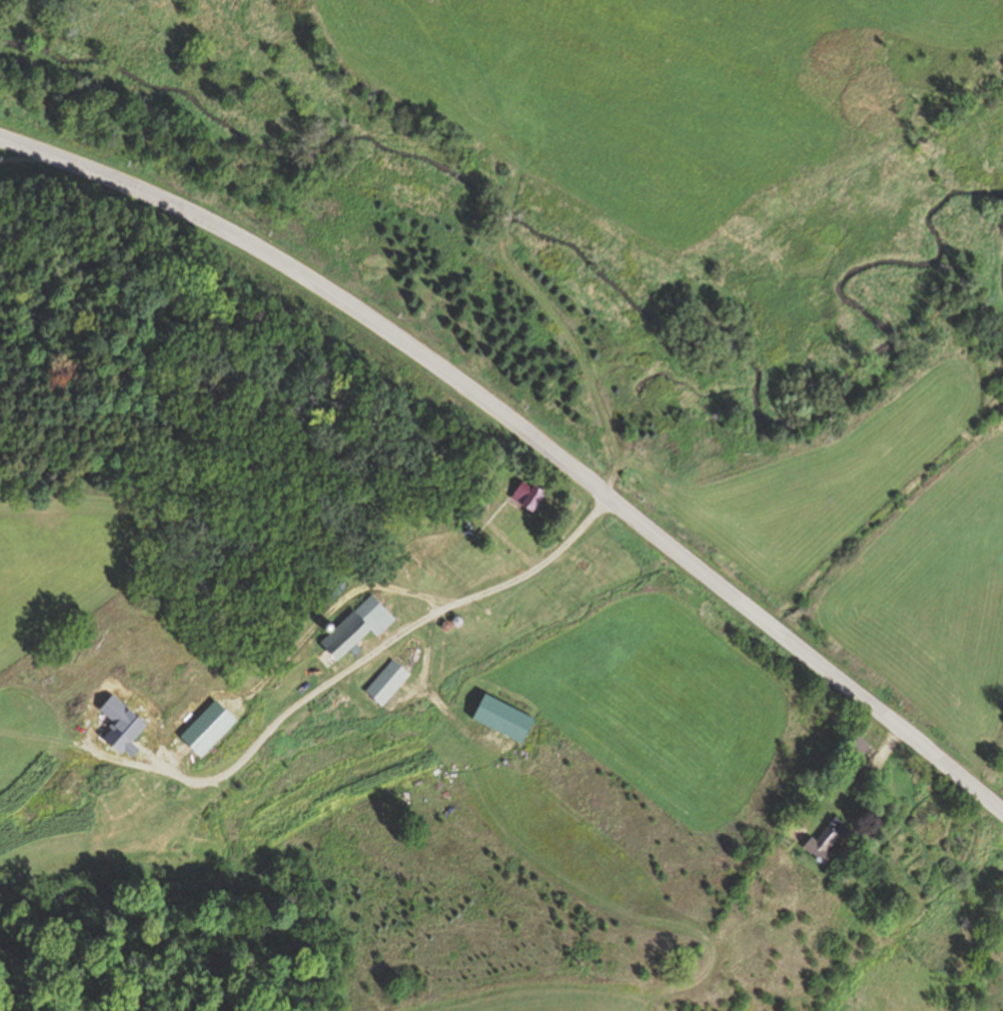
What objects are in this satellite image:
road: (496, 100)
road: (506, 220)
road: (580, 353)
road: (527, 431)
building: (528, 497)
building: (467, 524)
road: (512, 547)
building: (558, 584)
building: (359, 624)
road: (360, 669)
building: (386, 680)
building: (505, 718)
building: (860, 749)
road: (188, 753)
road: (858, 774)
building: (827, 841)

